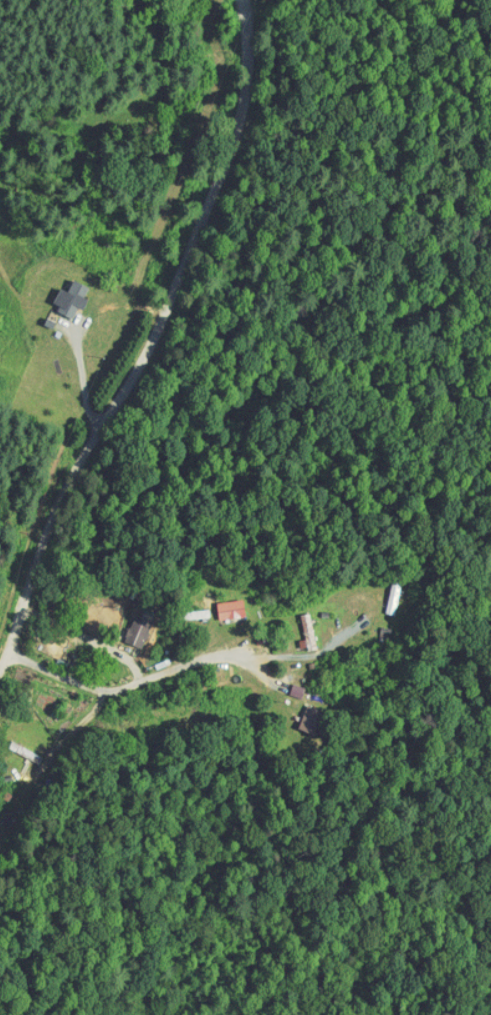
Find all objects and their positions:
building: (60, 291)
road: (153, 334)
building: (218, 602)
building: (125, 624)
building: (296, 625)
road: (5, 663)
road: (130, 684)
building: (284, 684)

